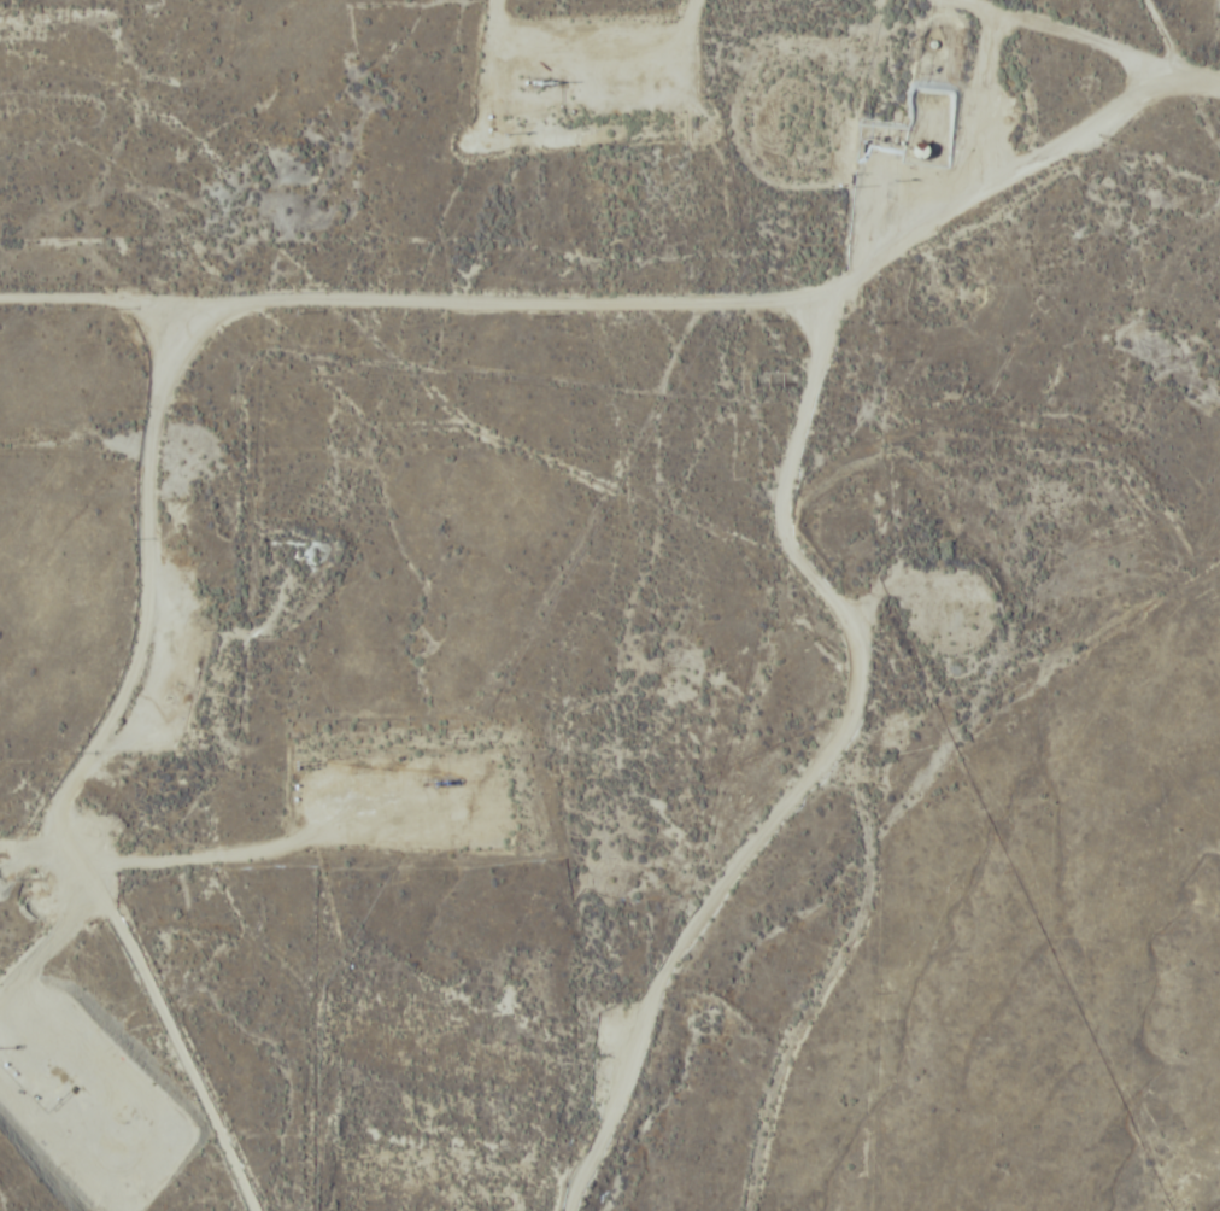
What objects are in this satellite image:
road: (1025, 51)
building: (802, 121)

